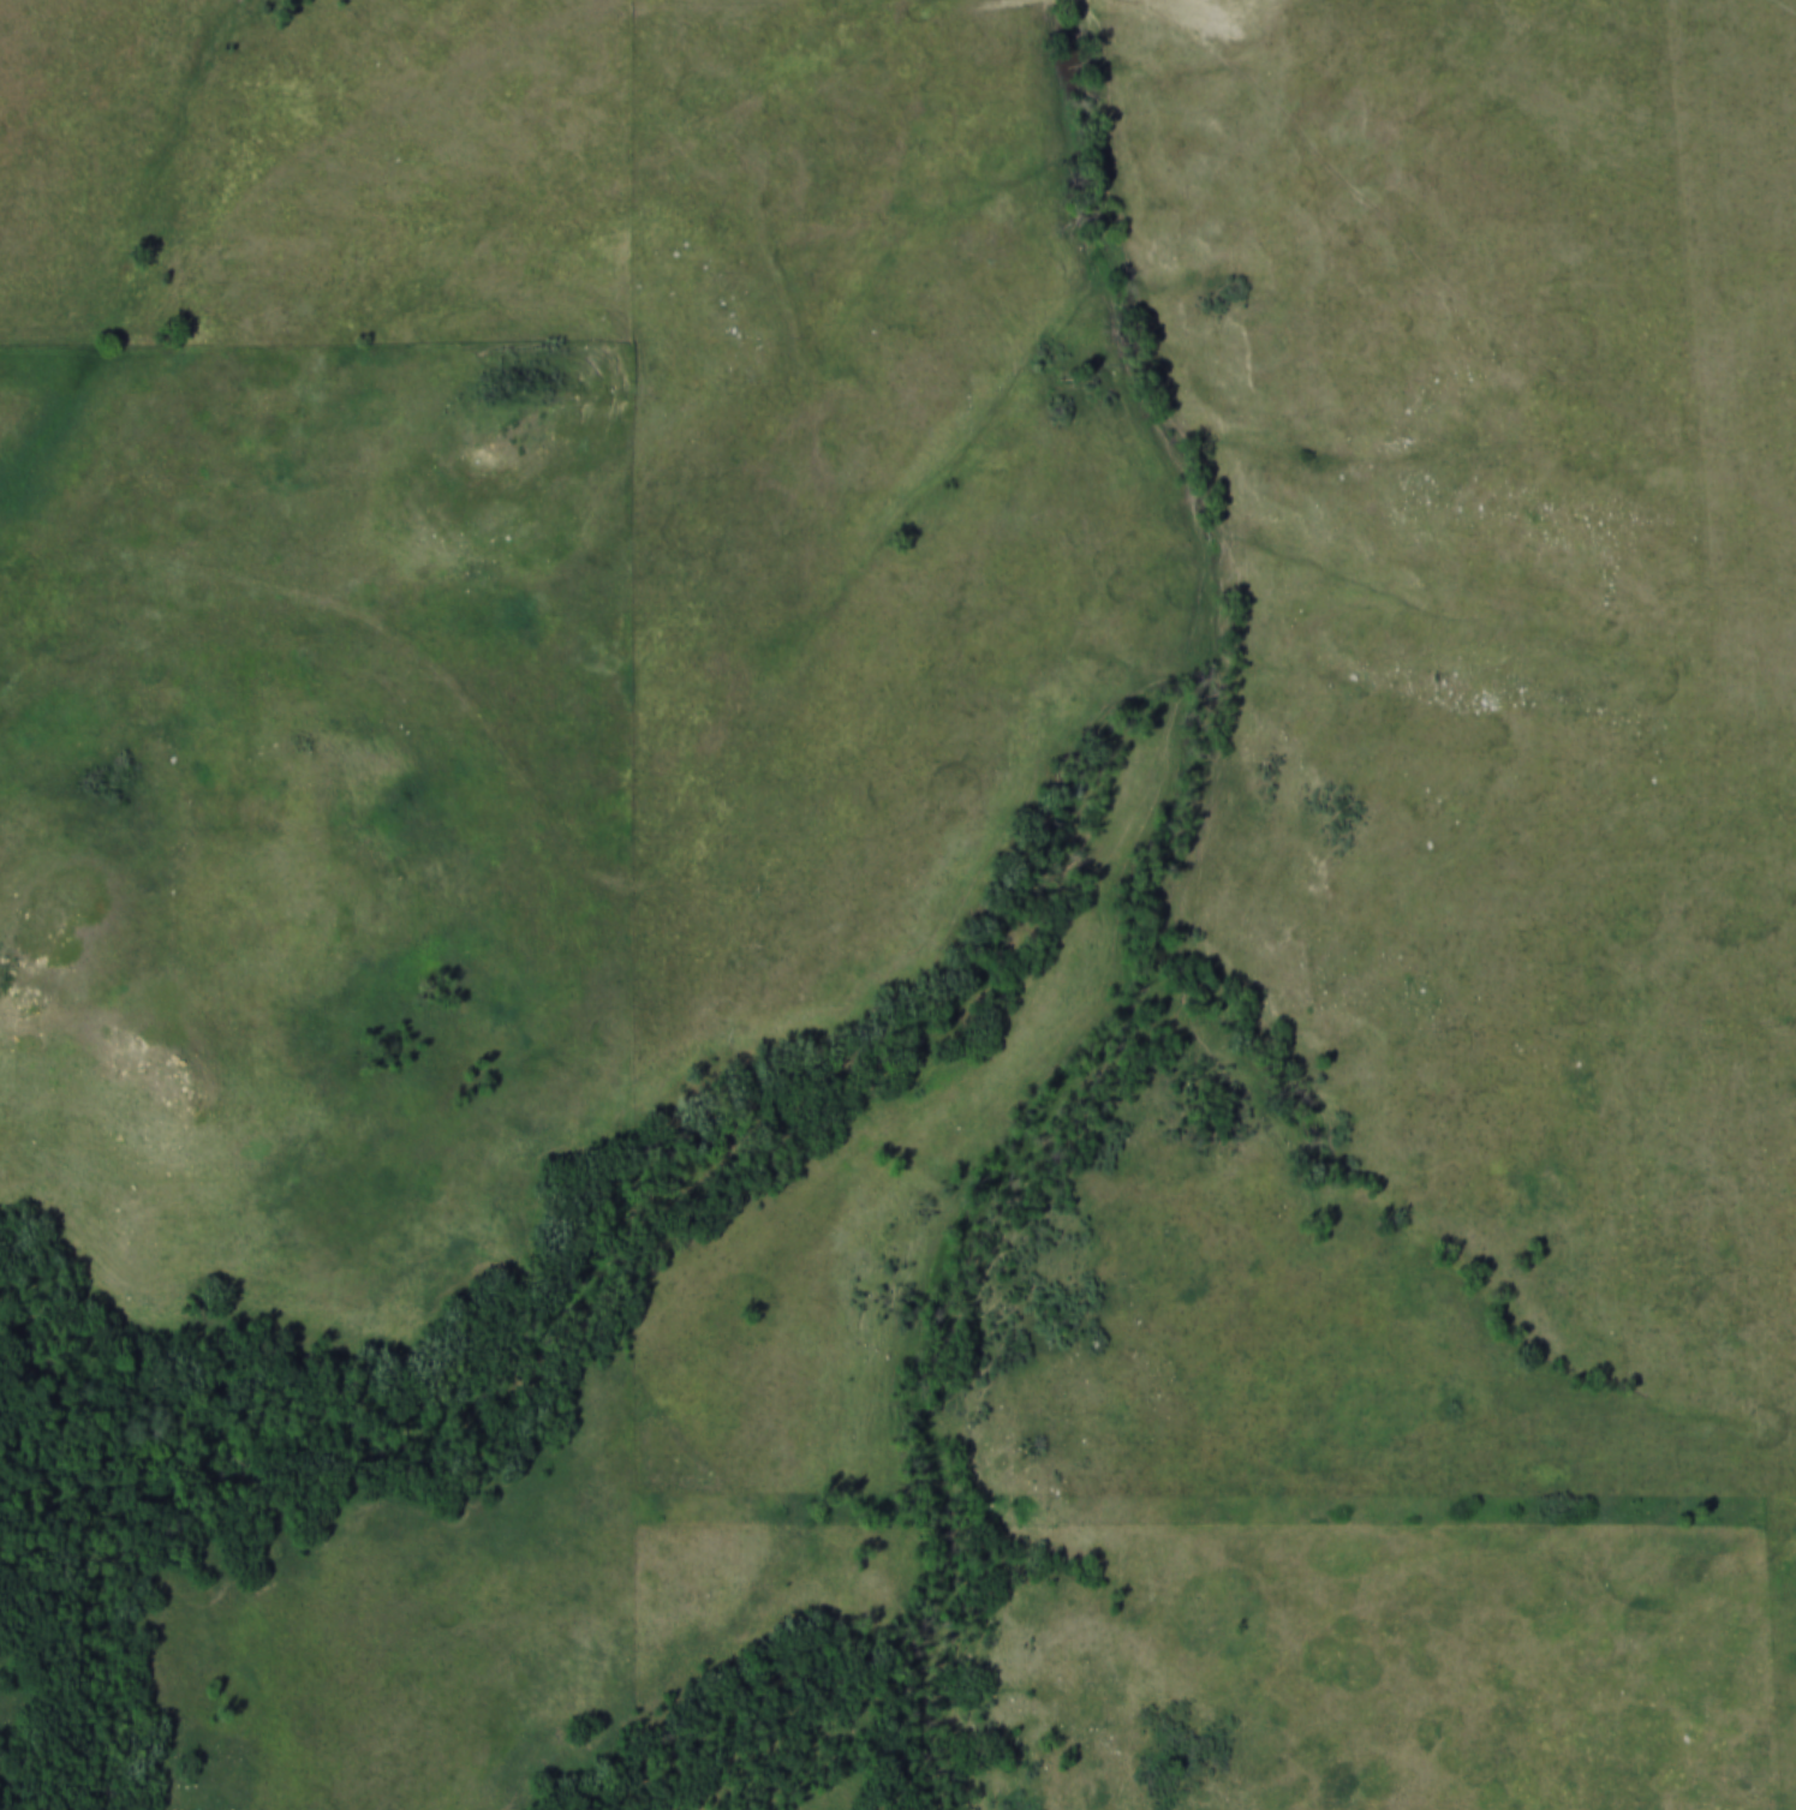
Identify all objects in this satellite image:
road: (998, 4)
road: (139, 228)

